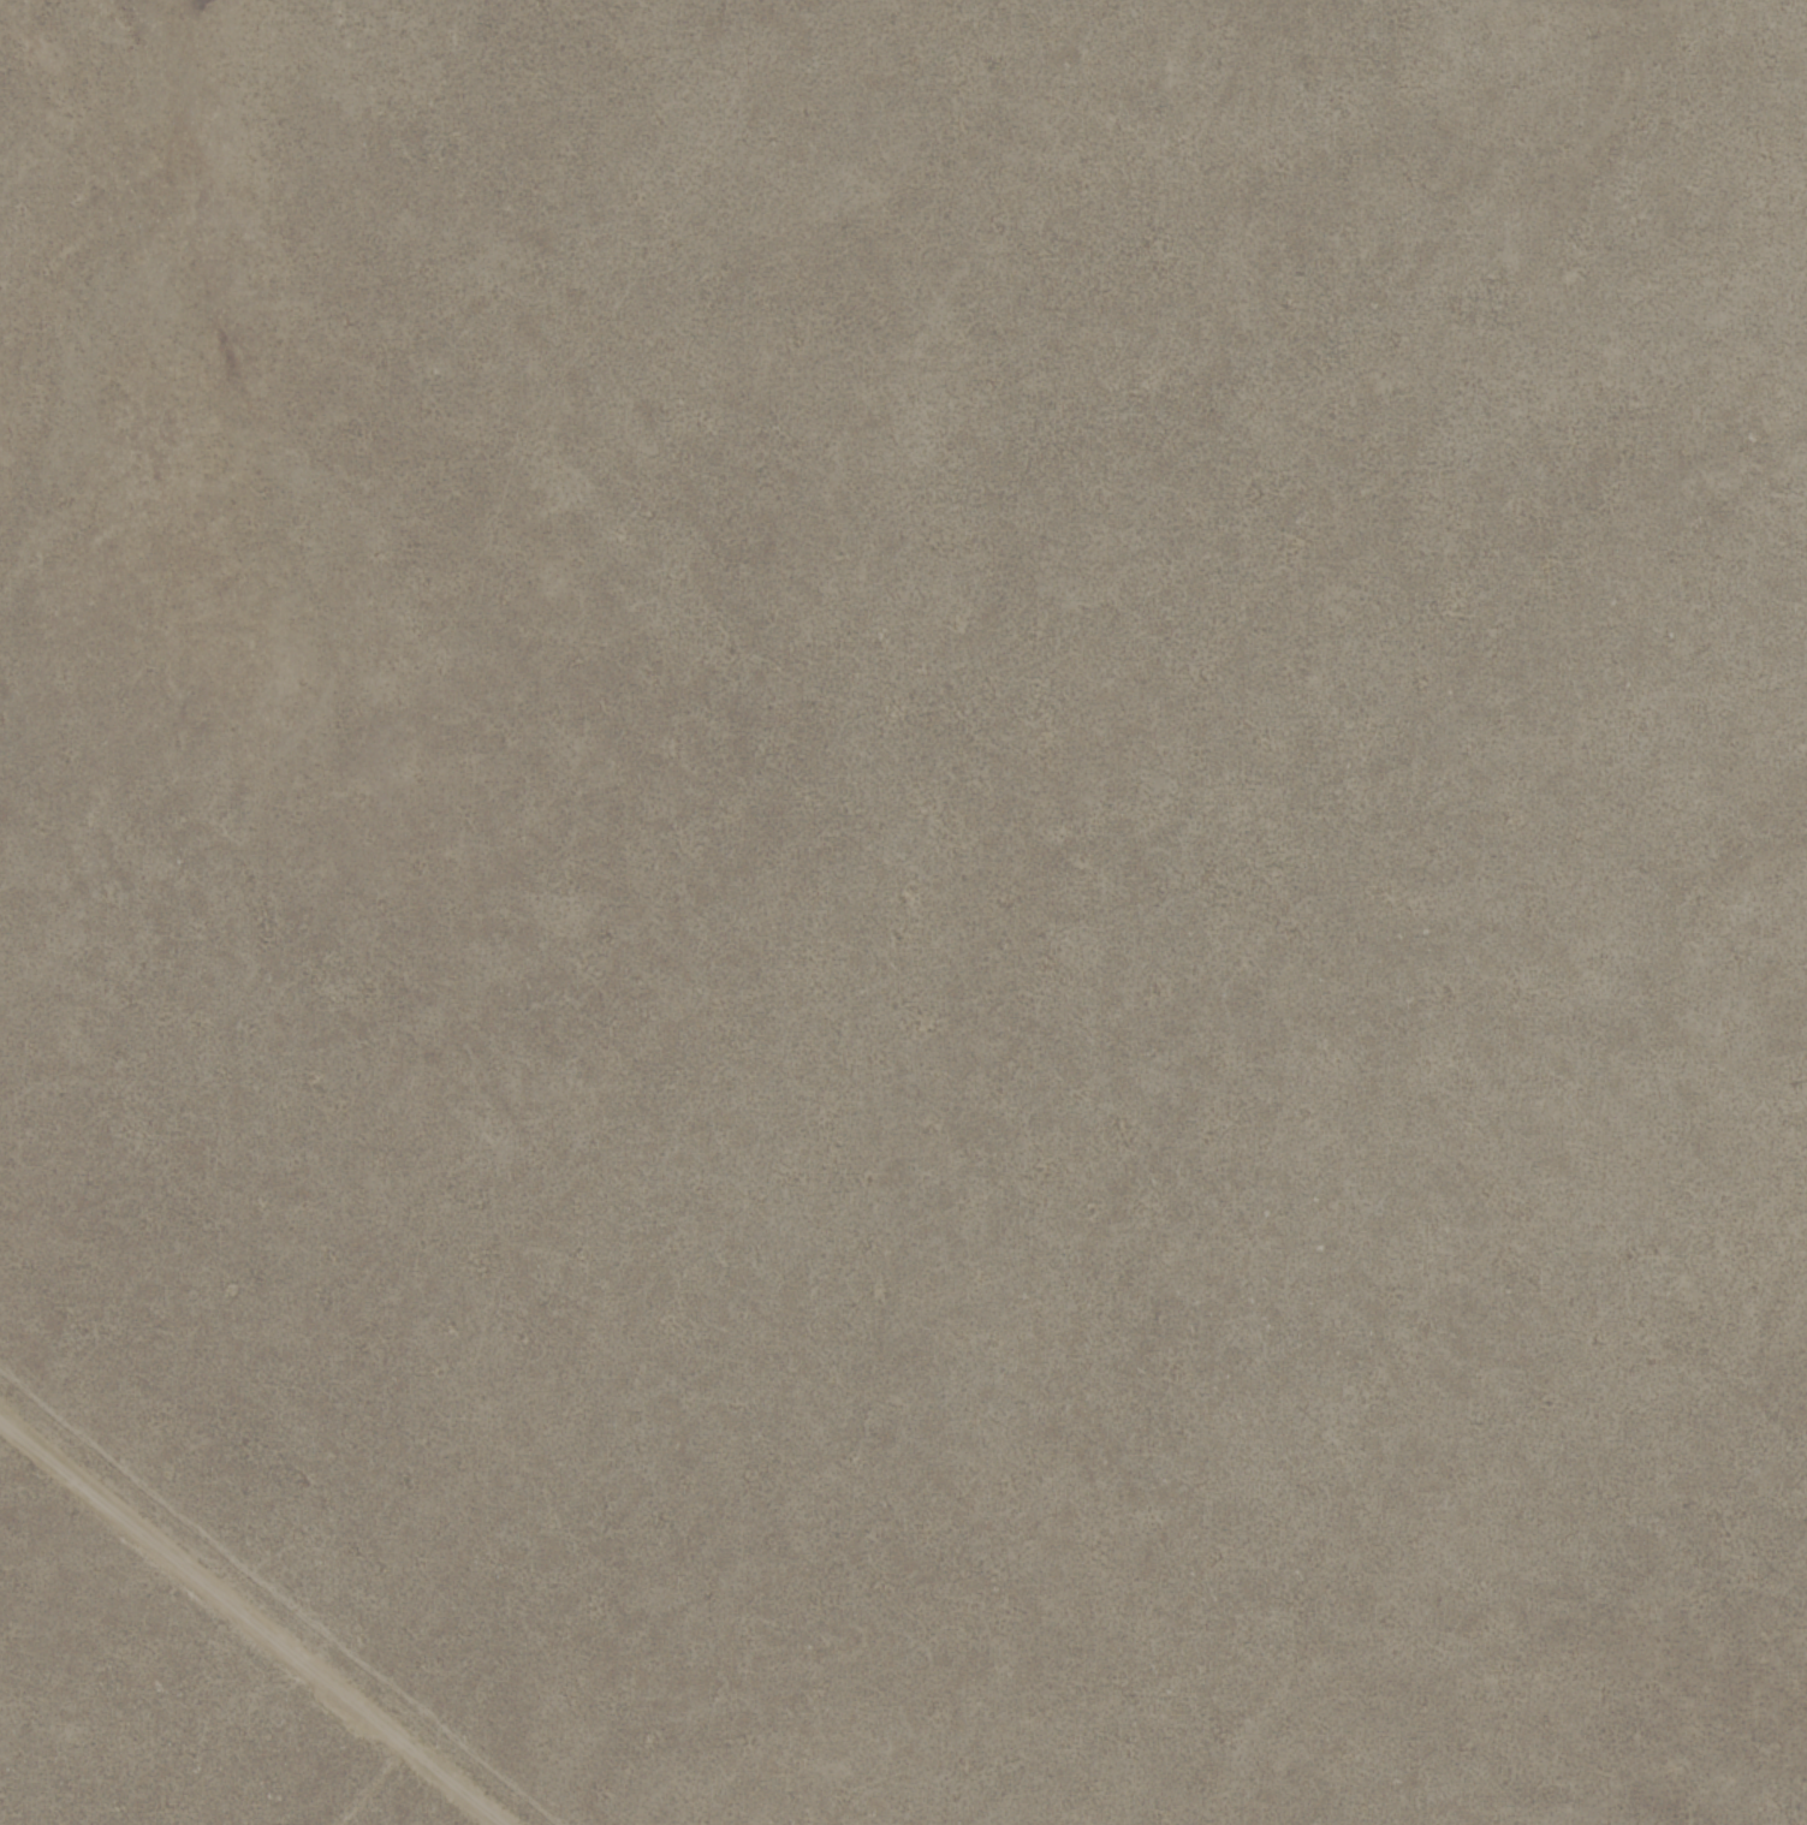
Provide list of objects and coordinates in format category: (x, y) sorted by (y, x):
road: (257, 1617)

